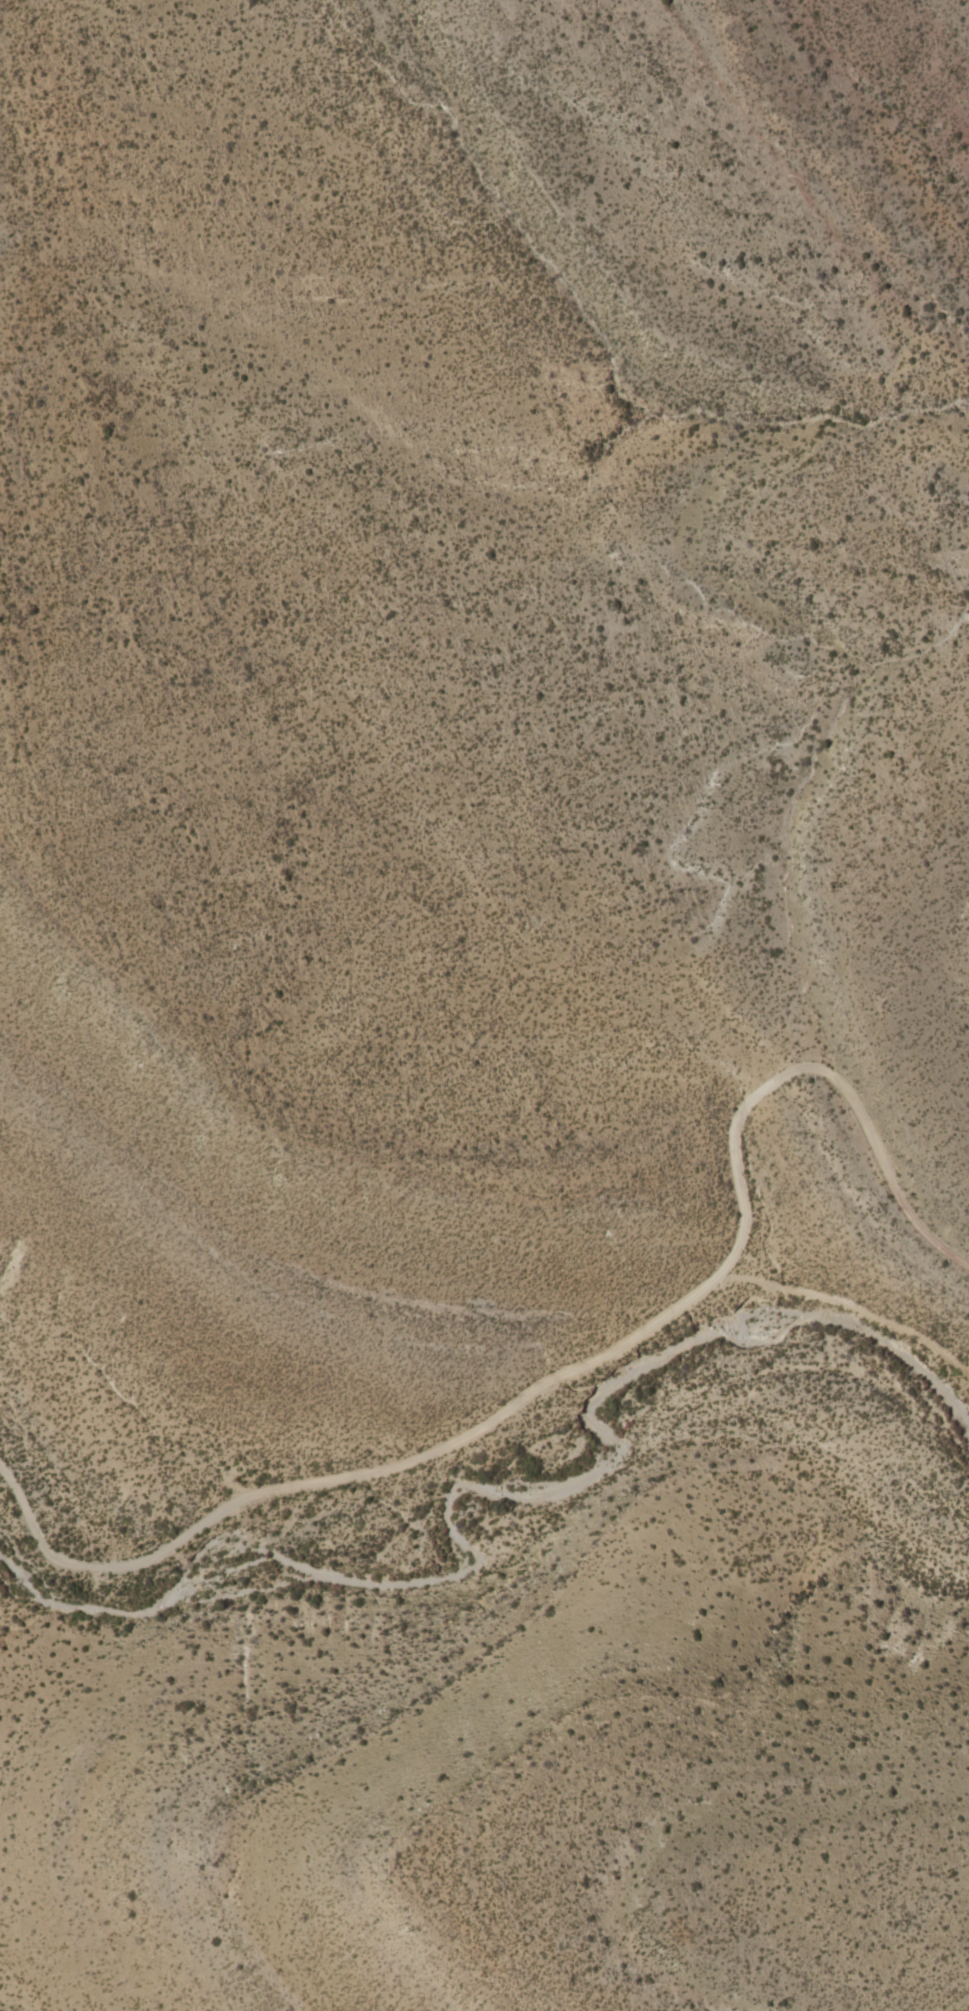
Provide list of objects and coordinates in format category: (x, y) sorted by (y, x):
road: (581, 1363)

